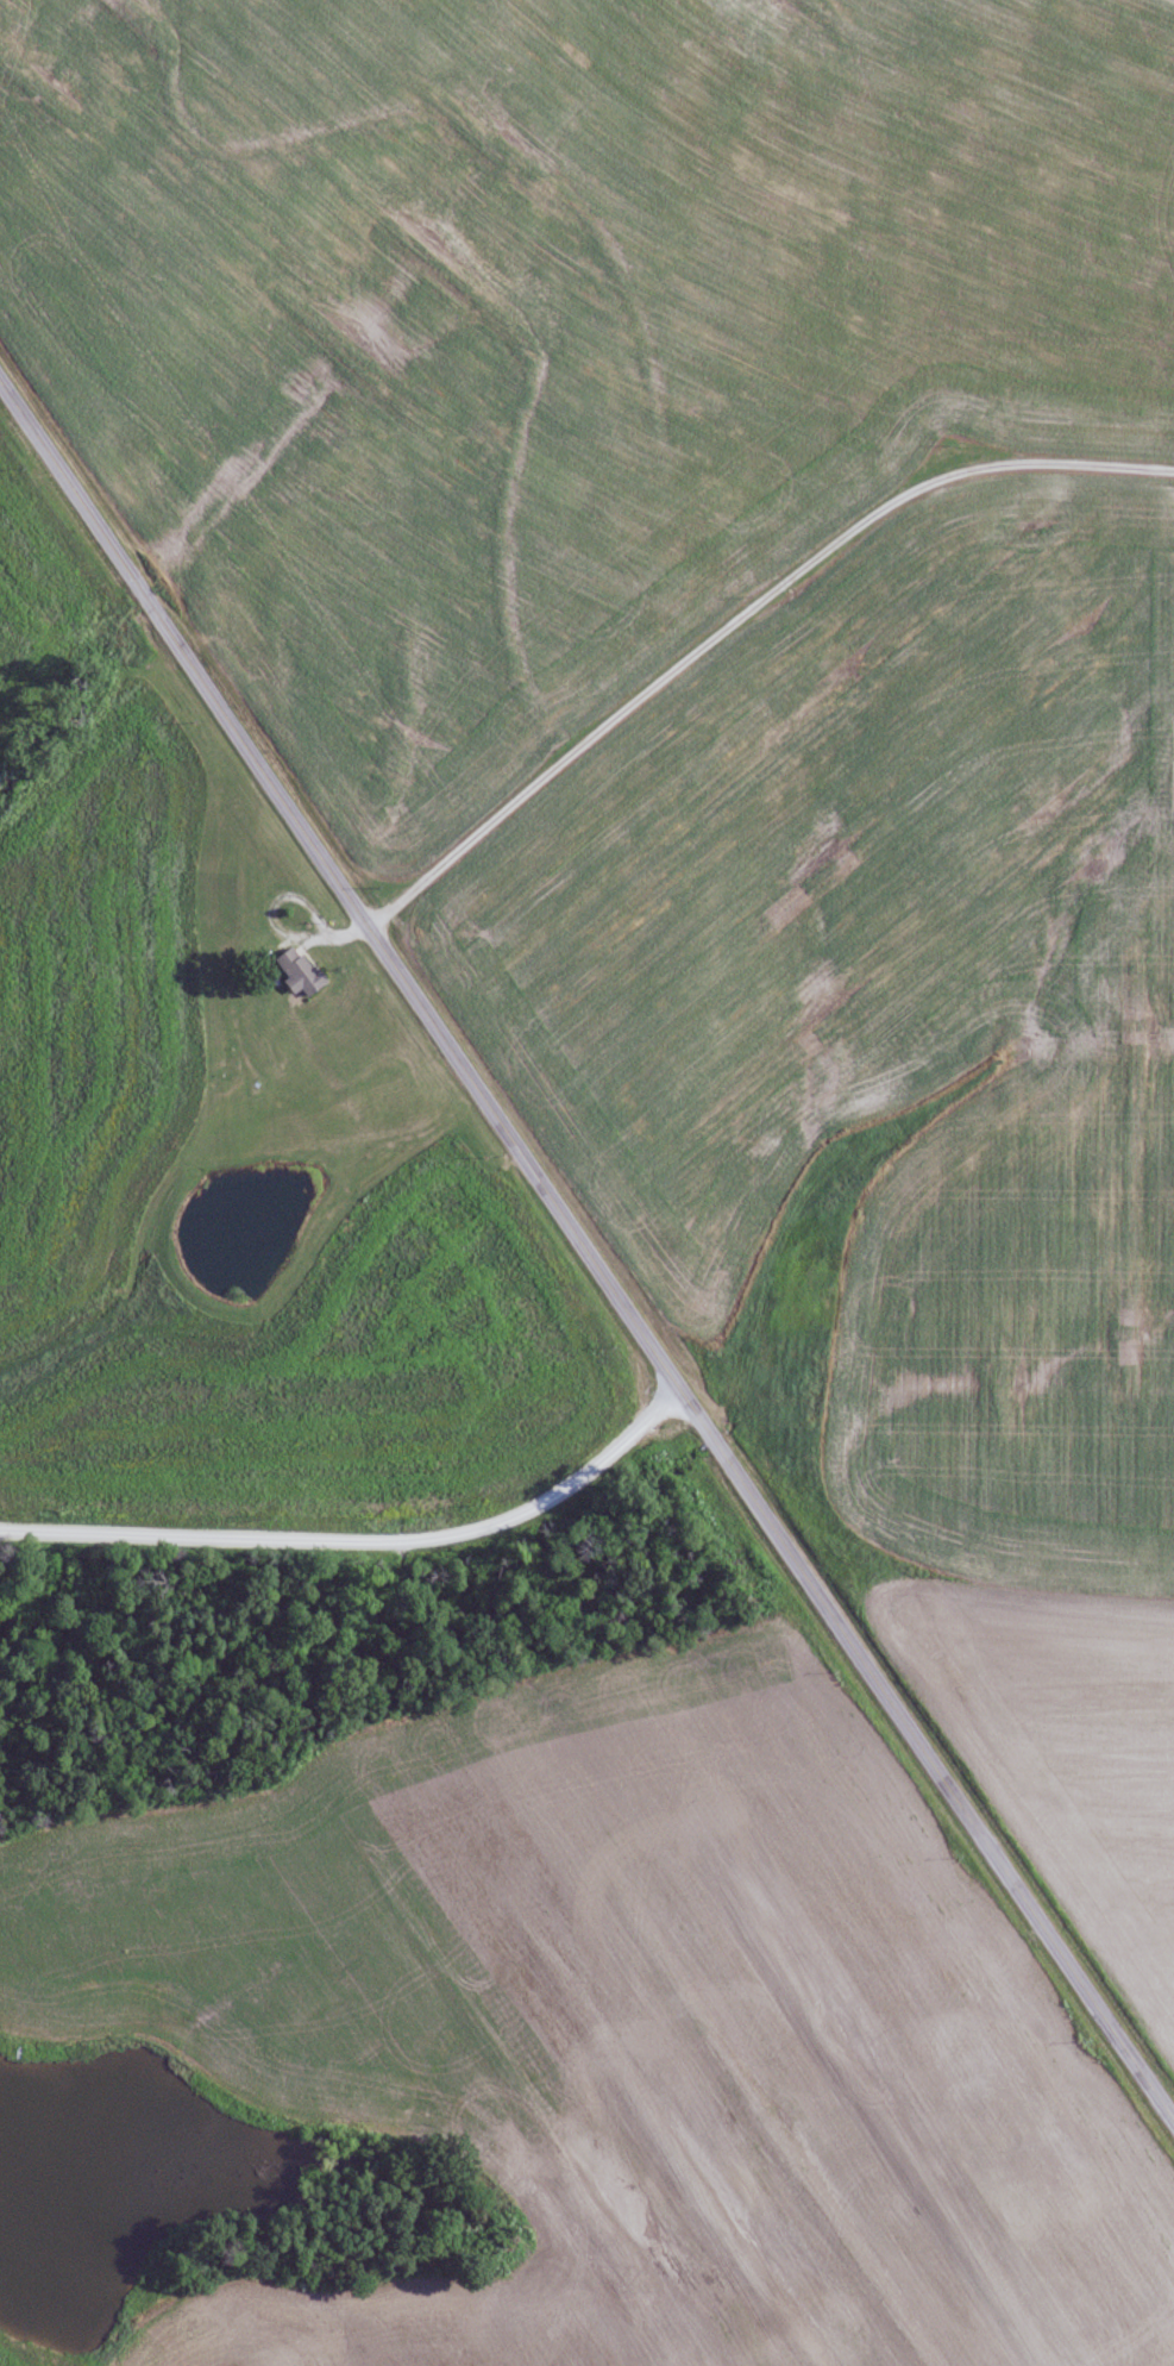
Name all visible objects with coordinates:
building: (300, 971)
road: (584, 1251)
road: (362, 1531)

